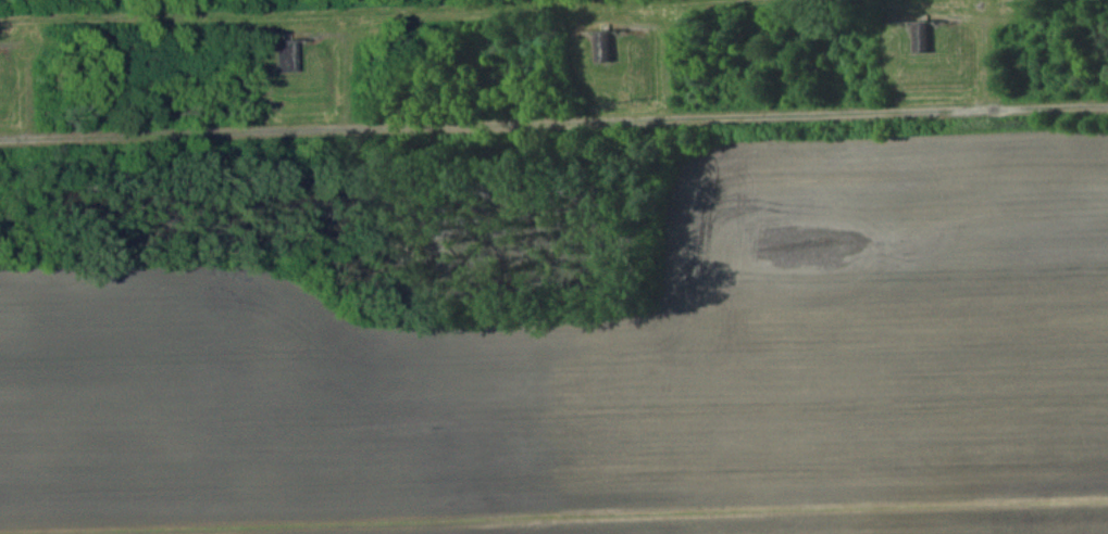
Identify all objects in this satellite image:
road: (553, 128)

